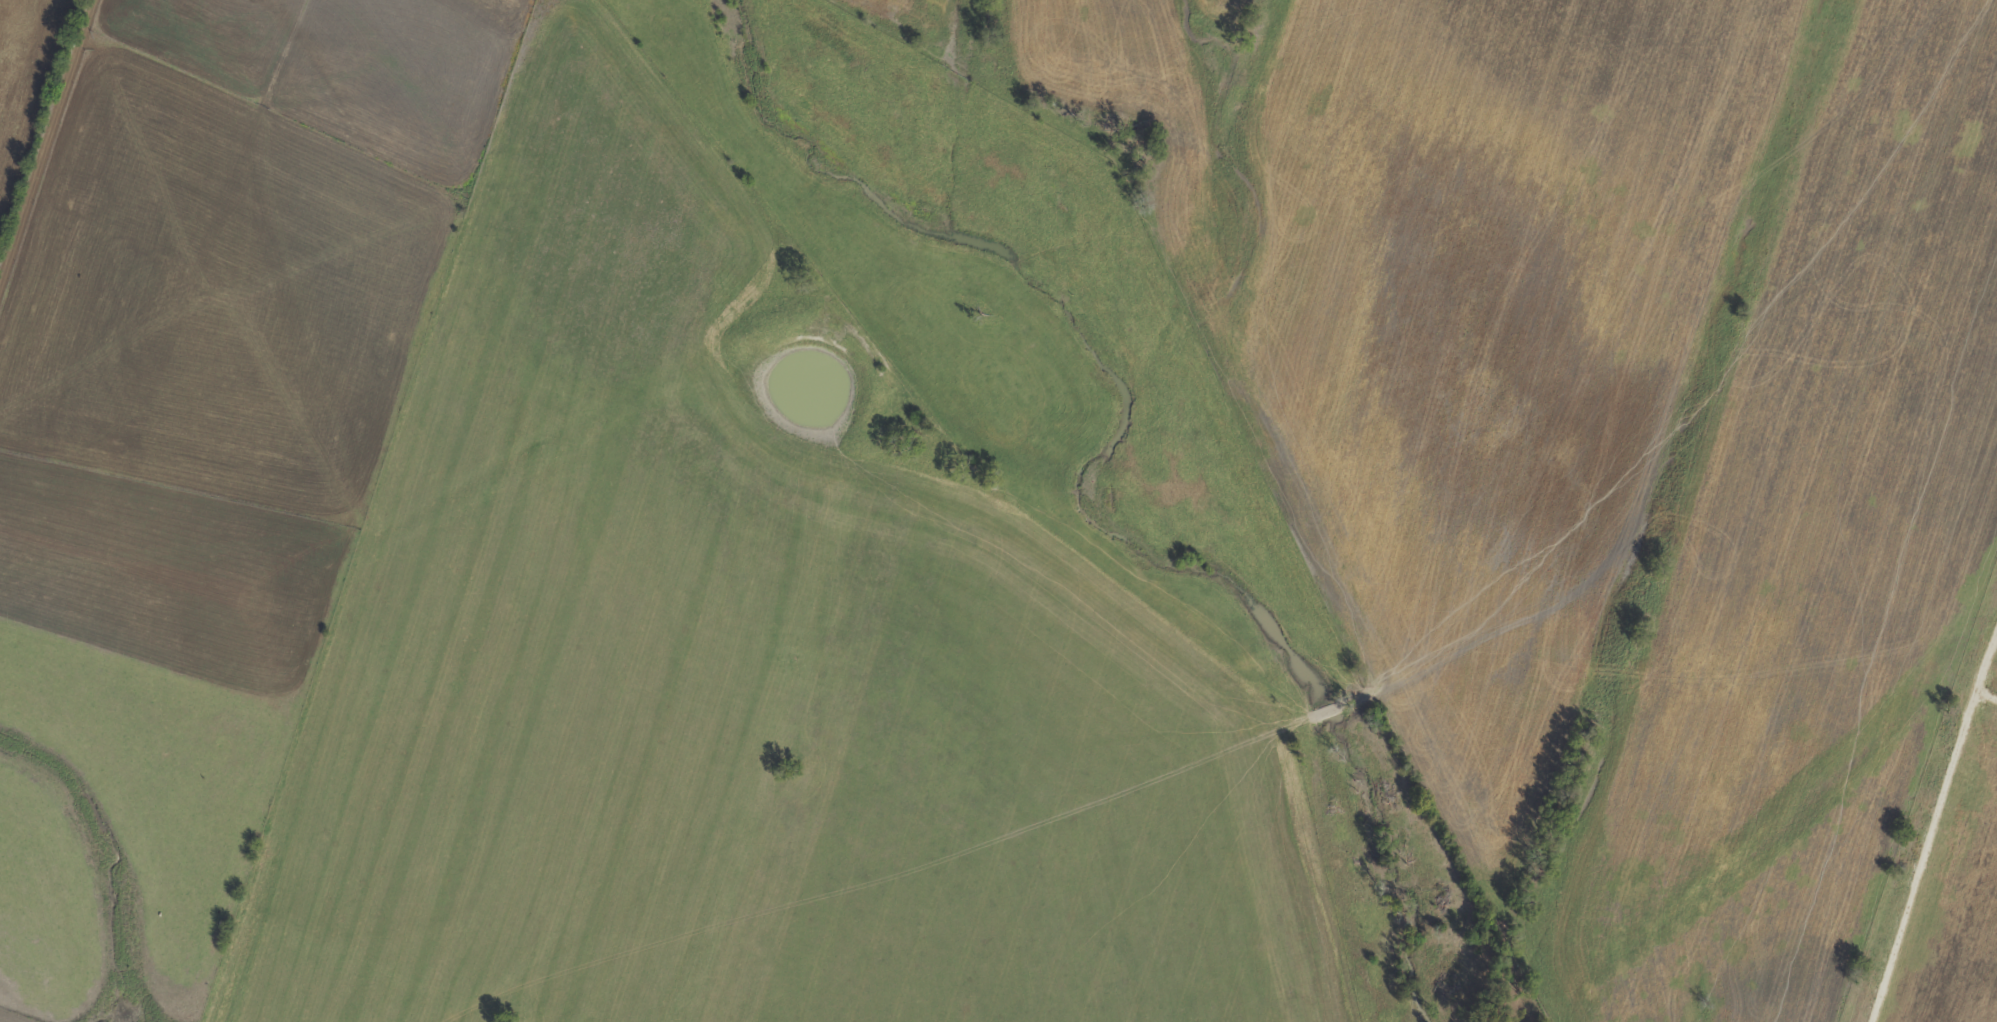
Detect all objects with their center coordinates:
road: (1936, 847)

